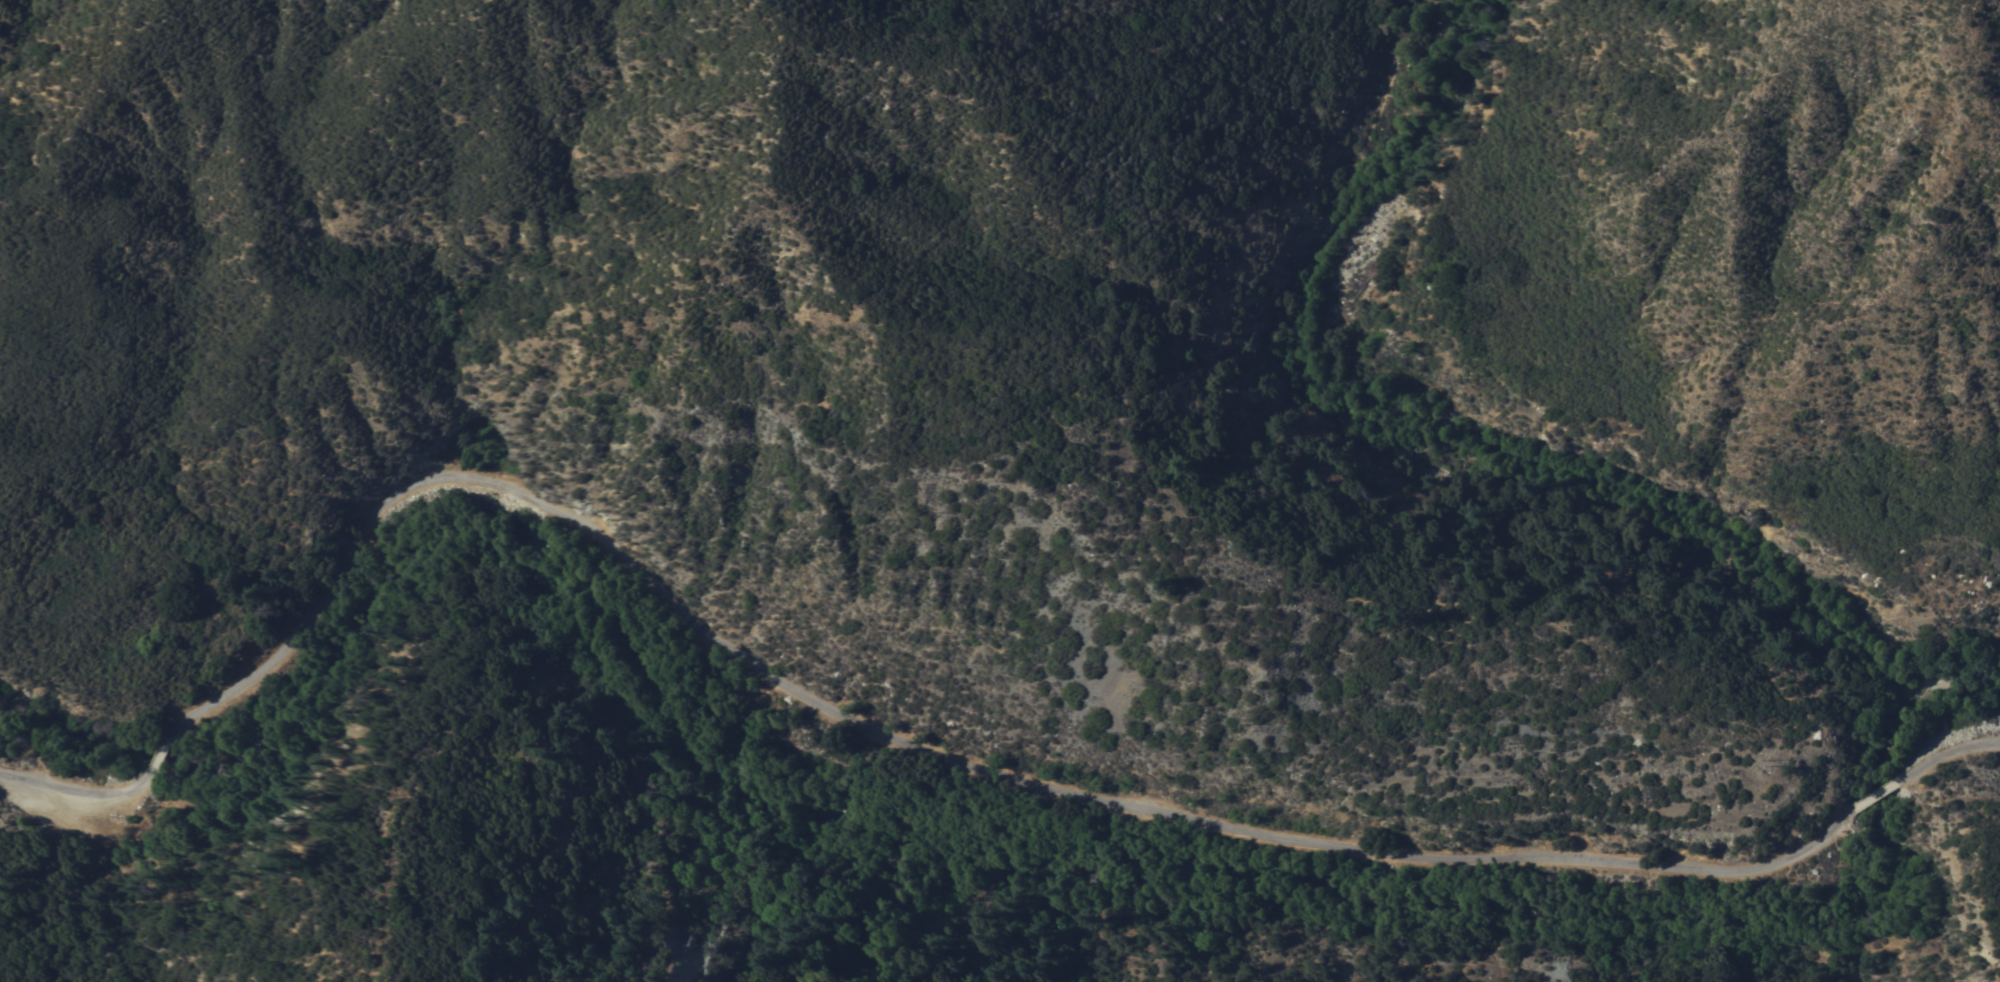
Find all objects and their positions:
road: (1479, 472)
road: (926, 750)
road: (1949, 751)
road: (165, 754)
road: (78, 787)
road: (1879, 798)
river: (992, 863)

